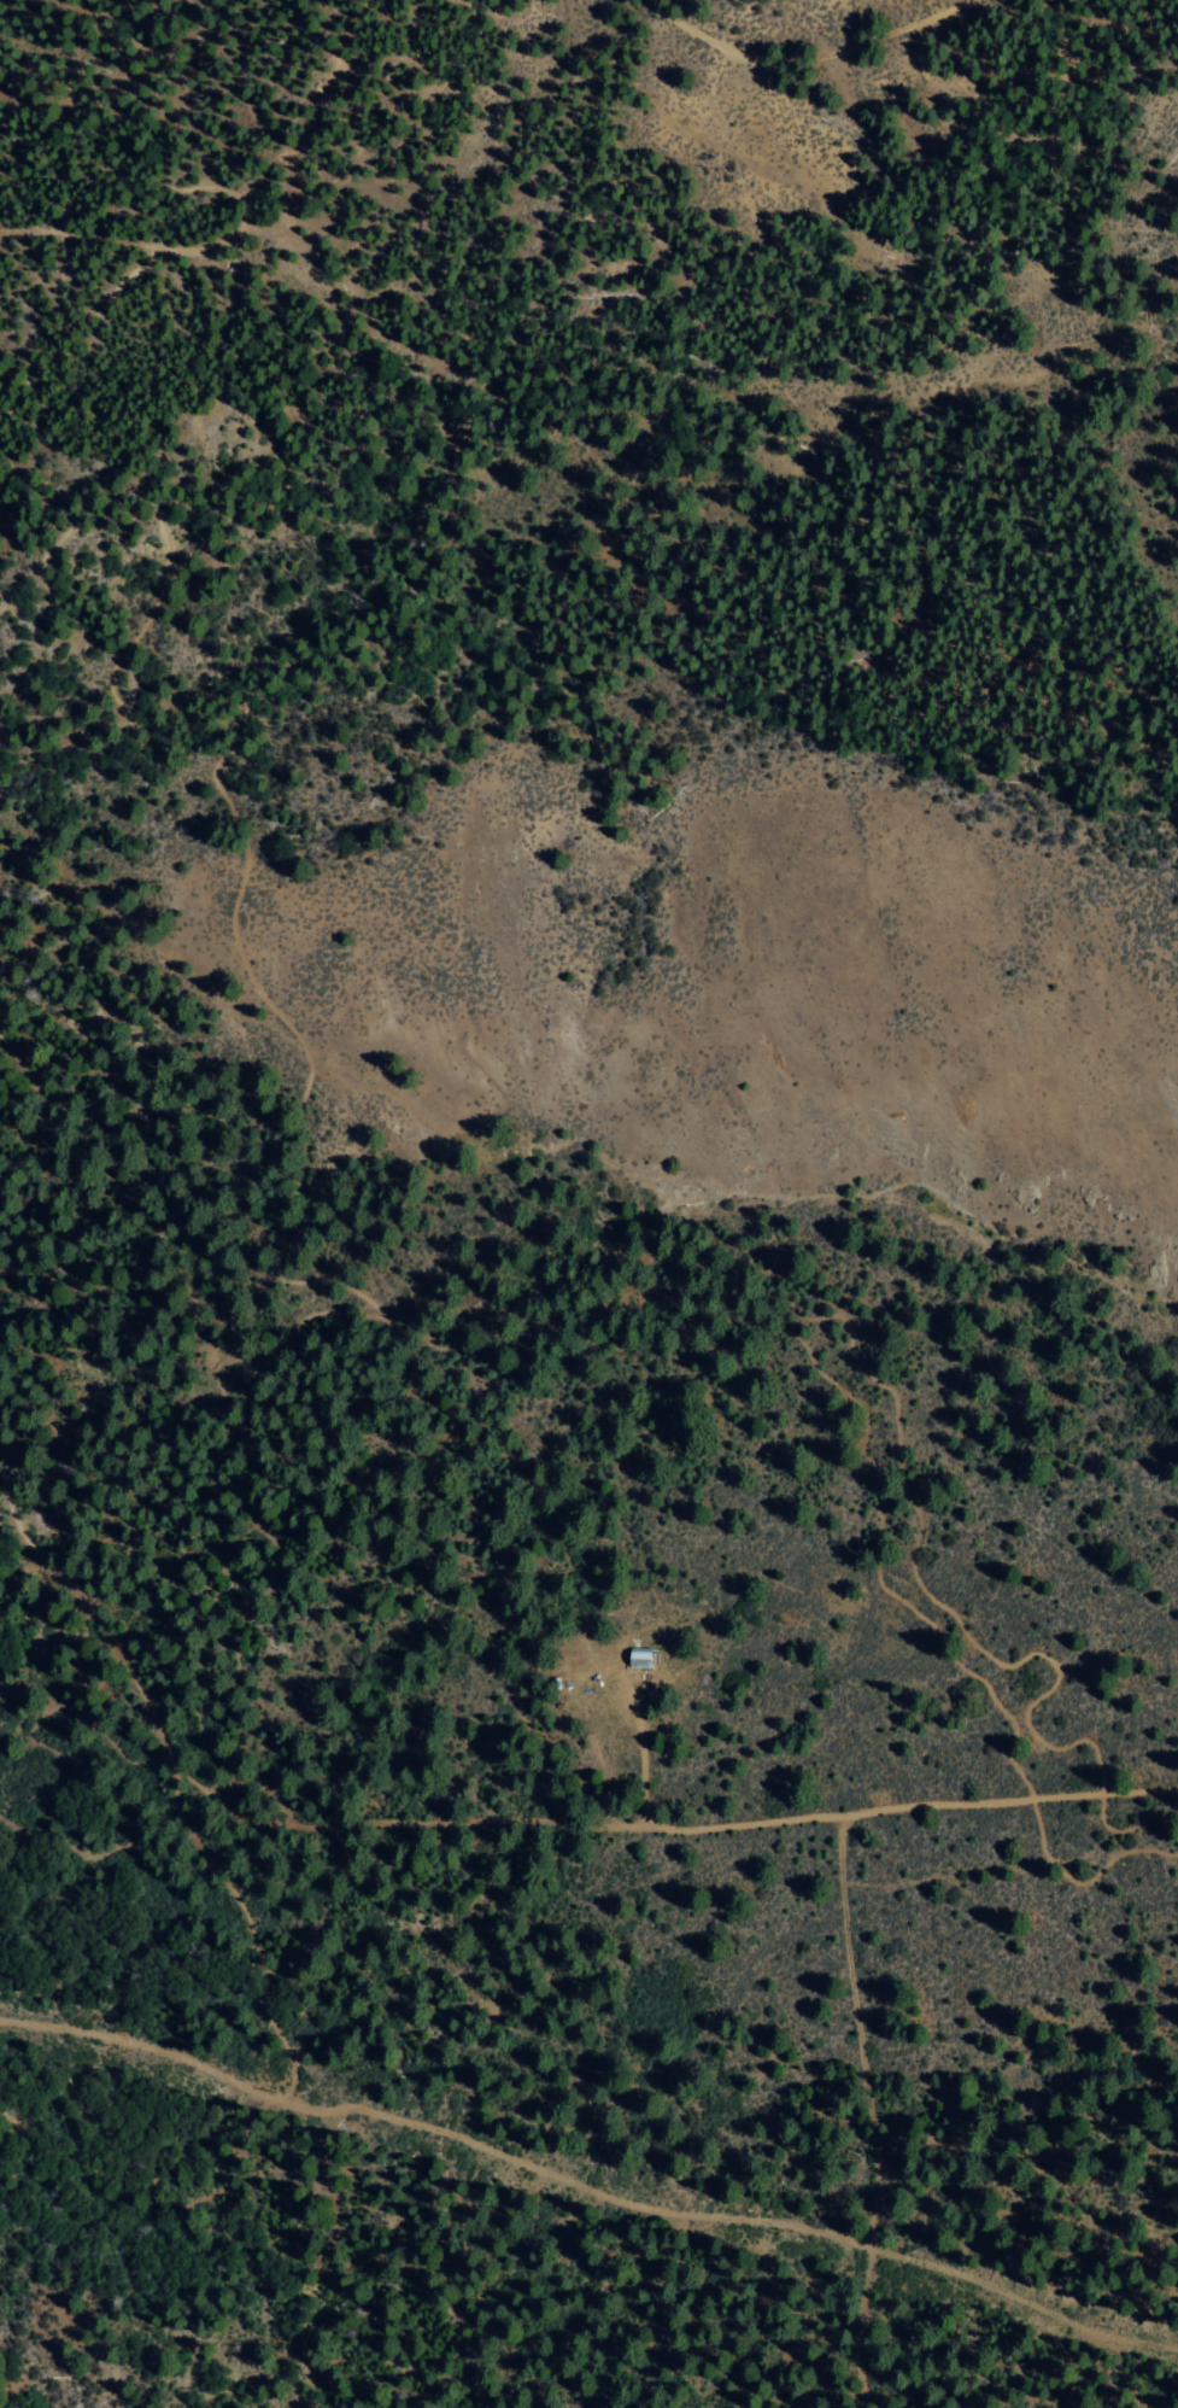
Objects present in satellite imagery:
road: (787, 34)
road: (225, 173)
road: (160, 1746)
road: (714, 1825)
road: (587, 2170)

